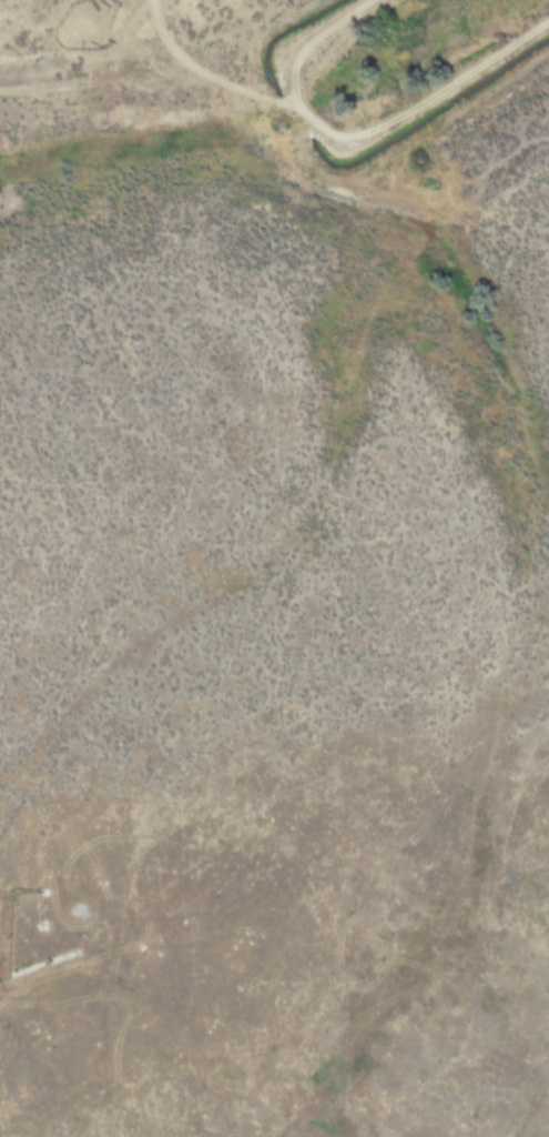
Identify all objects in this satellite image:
road: (423, 105)

